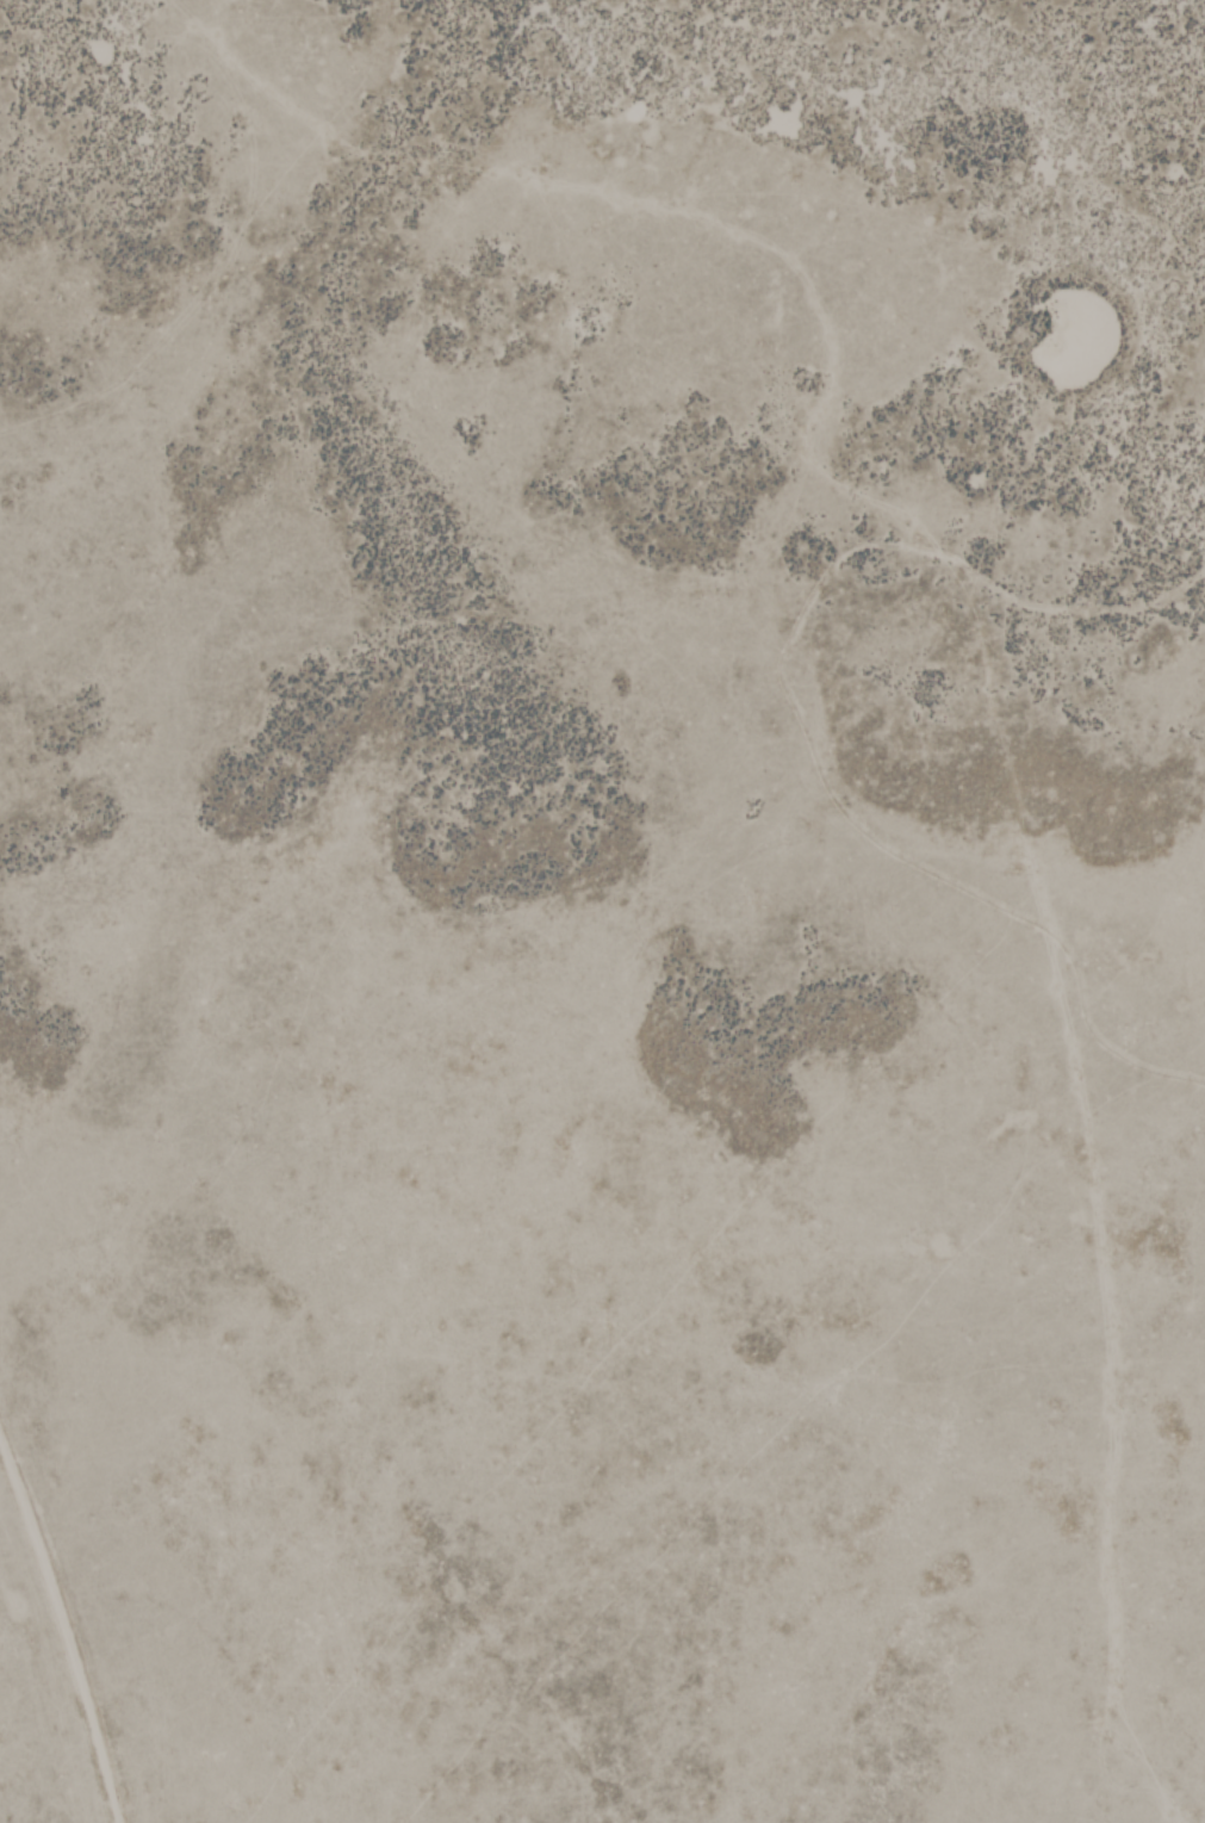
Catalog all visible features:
road: (66, 1626)

